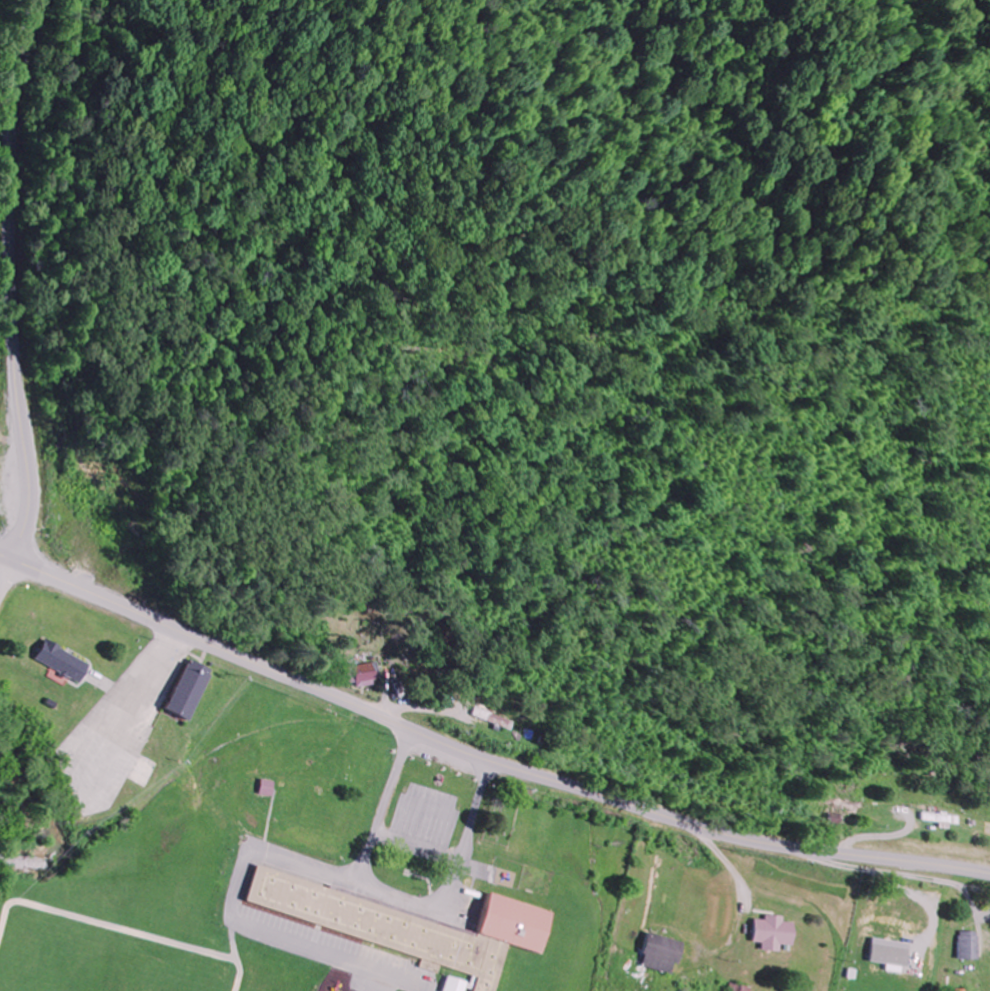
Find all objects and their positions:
road: (10, 264)
building: (55, 662)
building: (362, 676)
building: (184, 692)
building: (490, 719)
road: (484, 752)
building: (263, 789)
building: (938, 820)
building: (412, 928)
building: (772, 934)
building: (968, 947)
building: (660, 955)
building: (887, 956)
building: (449, 985)

